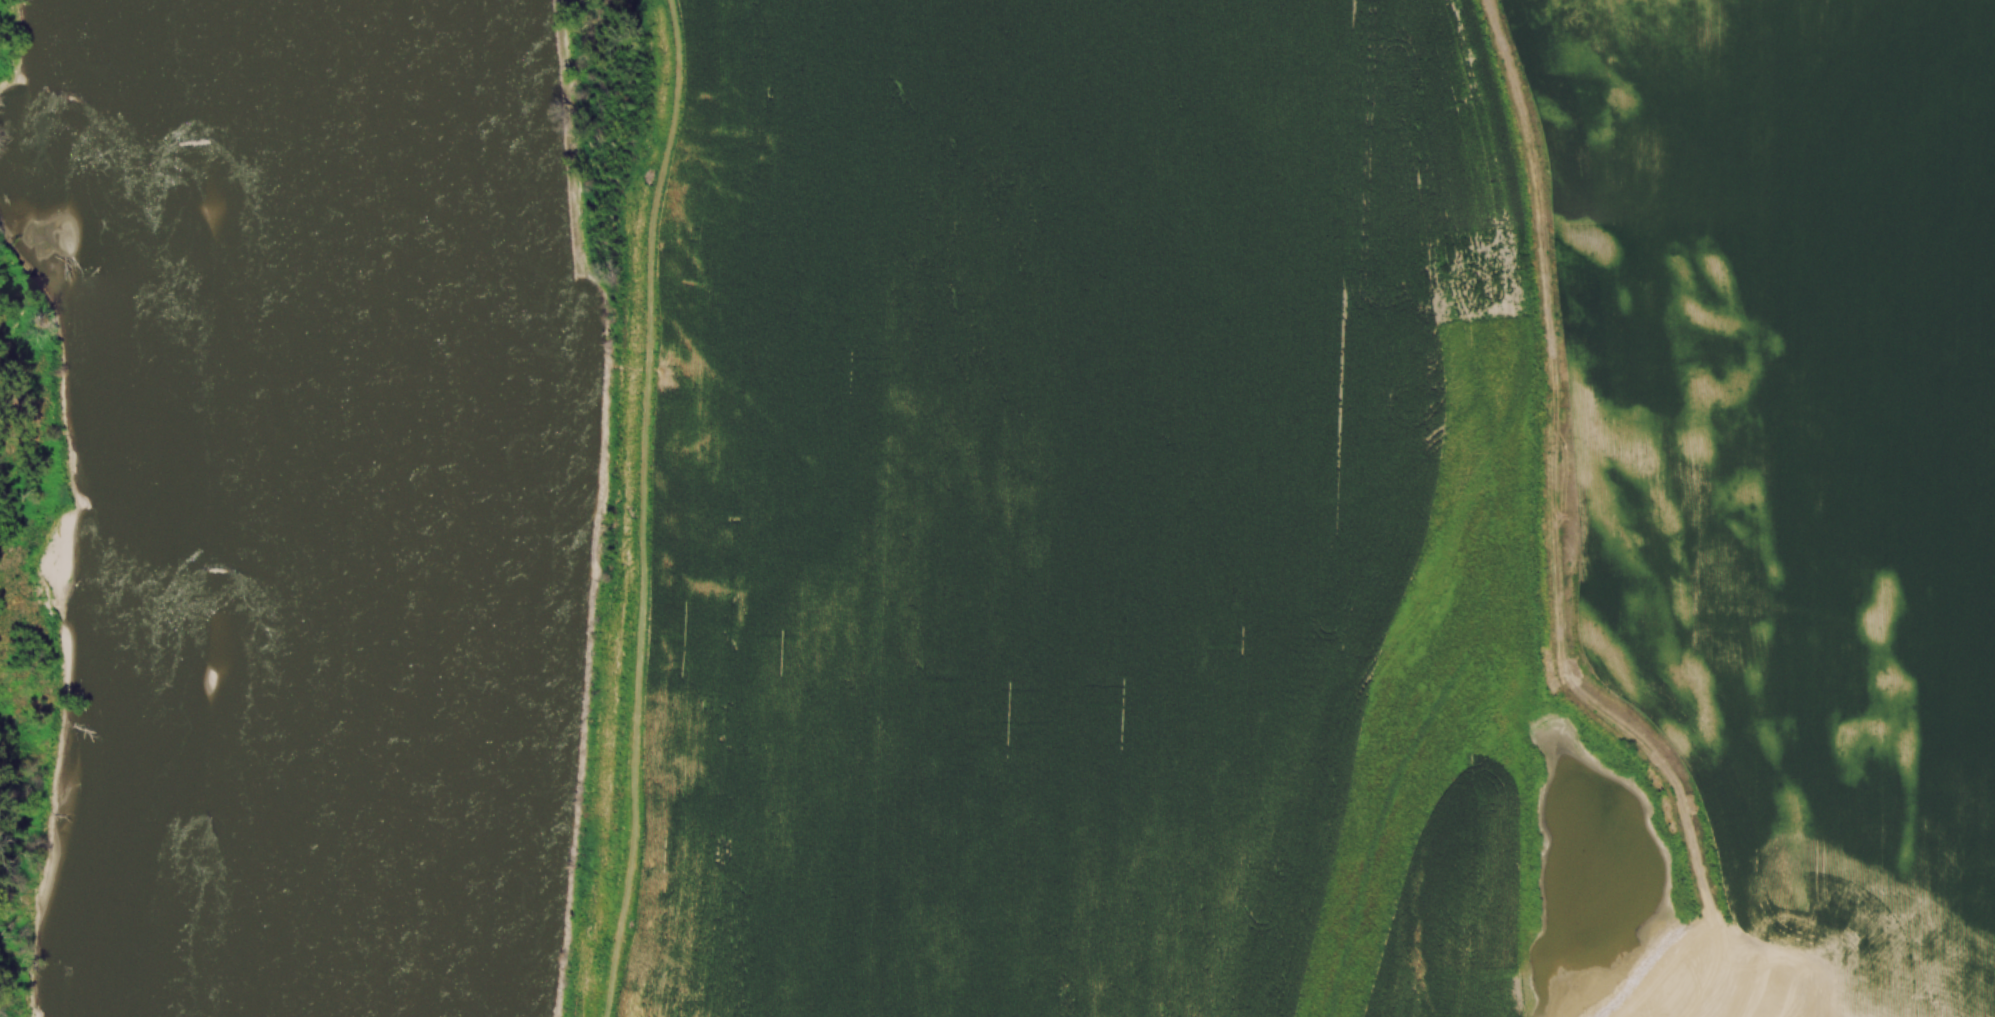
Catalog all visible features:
river: (337, 509)
road: (1557, 613)

